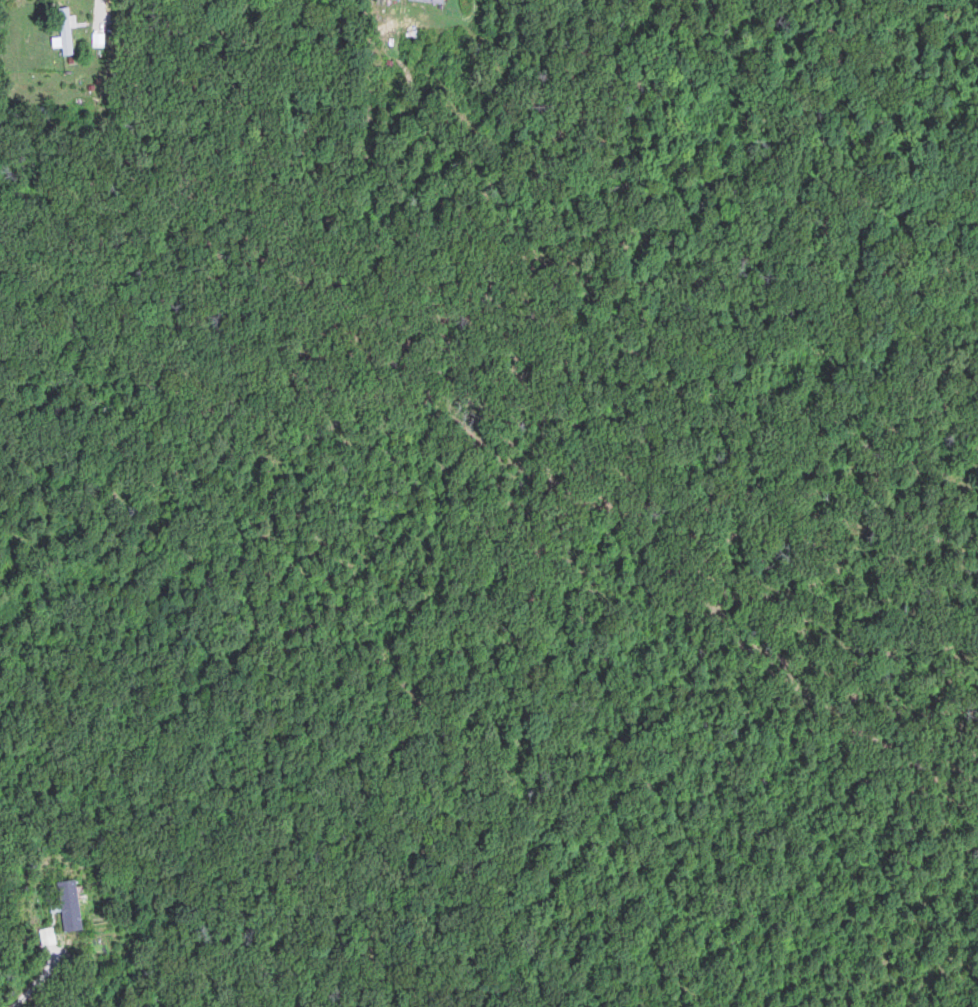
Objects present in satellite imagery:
building: (428, 0)
road: (99, 6)
building: (65, 30)
building: (67, 907)
road: (37, 982)

